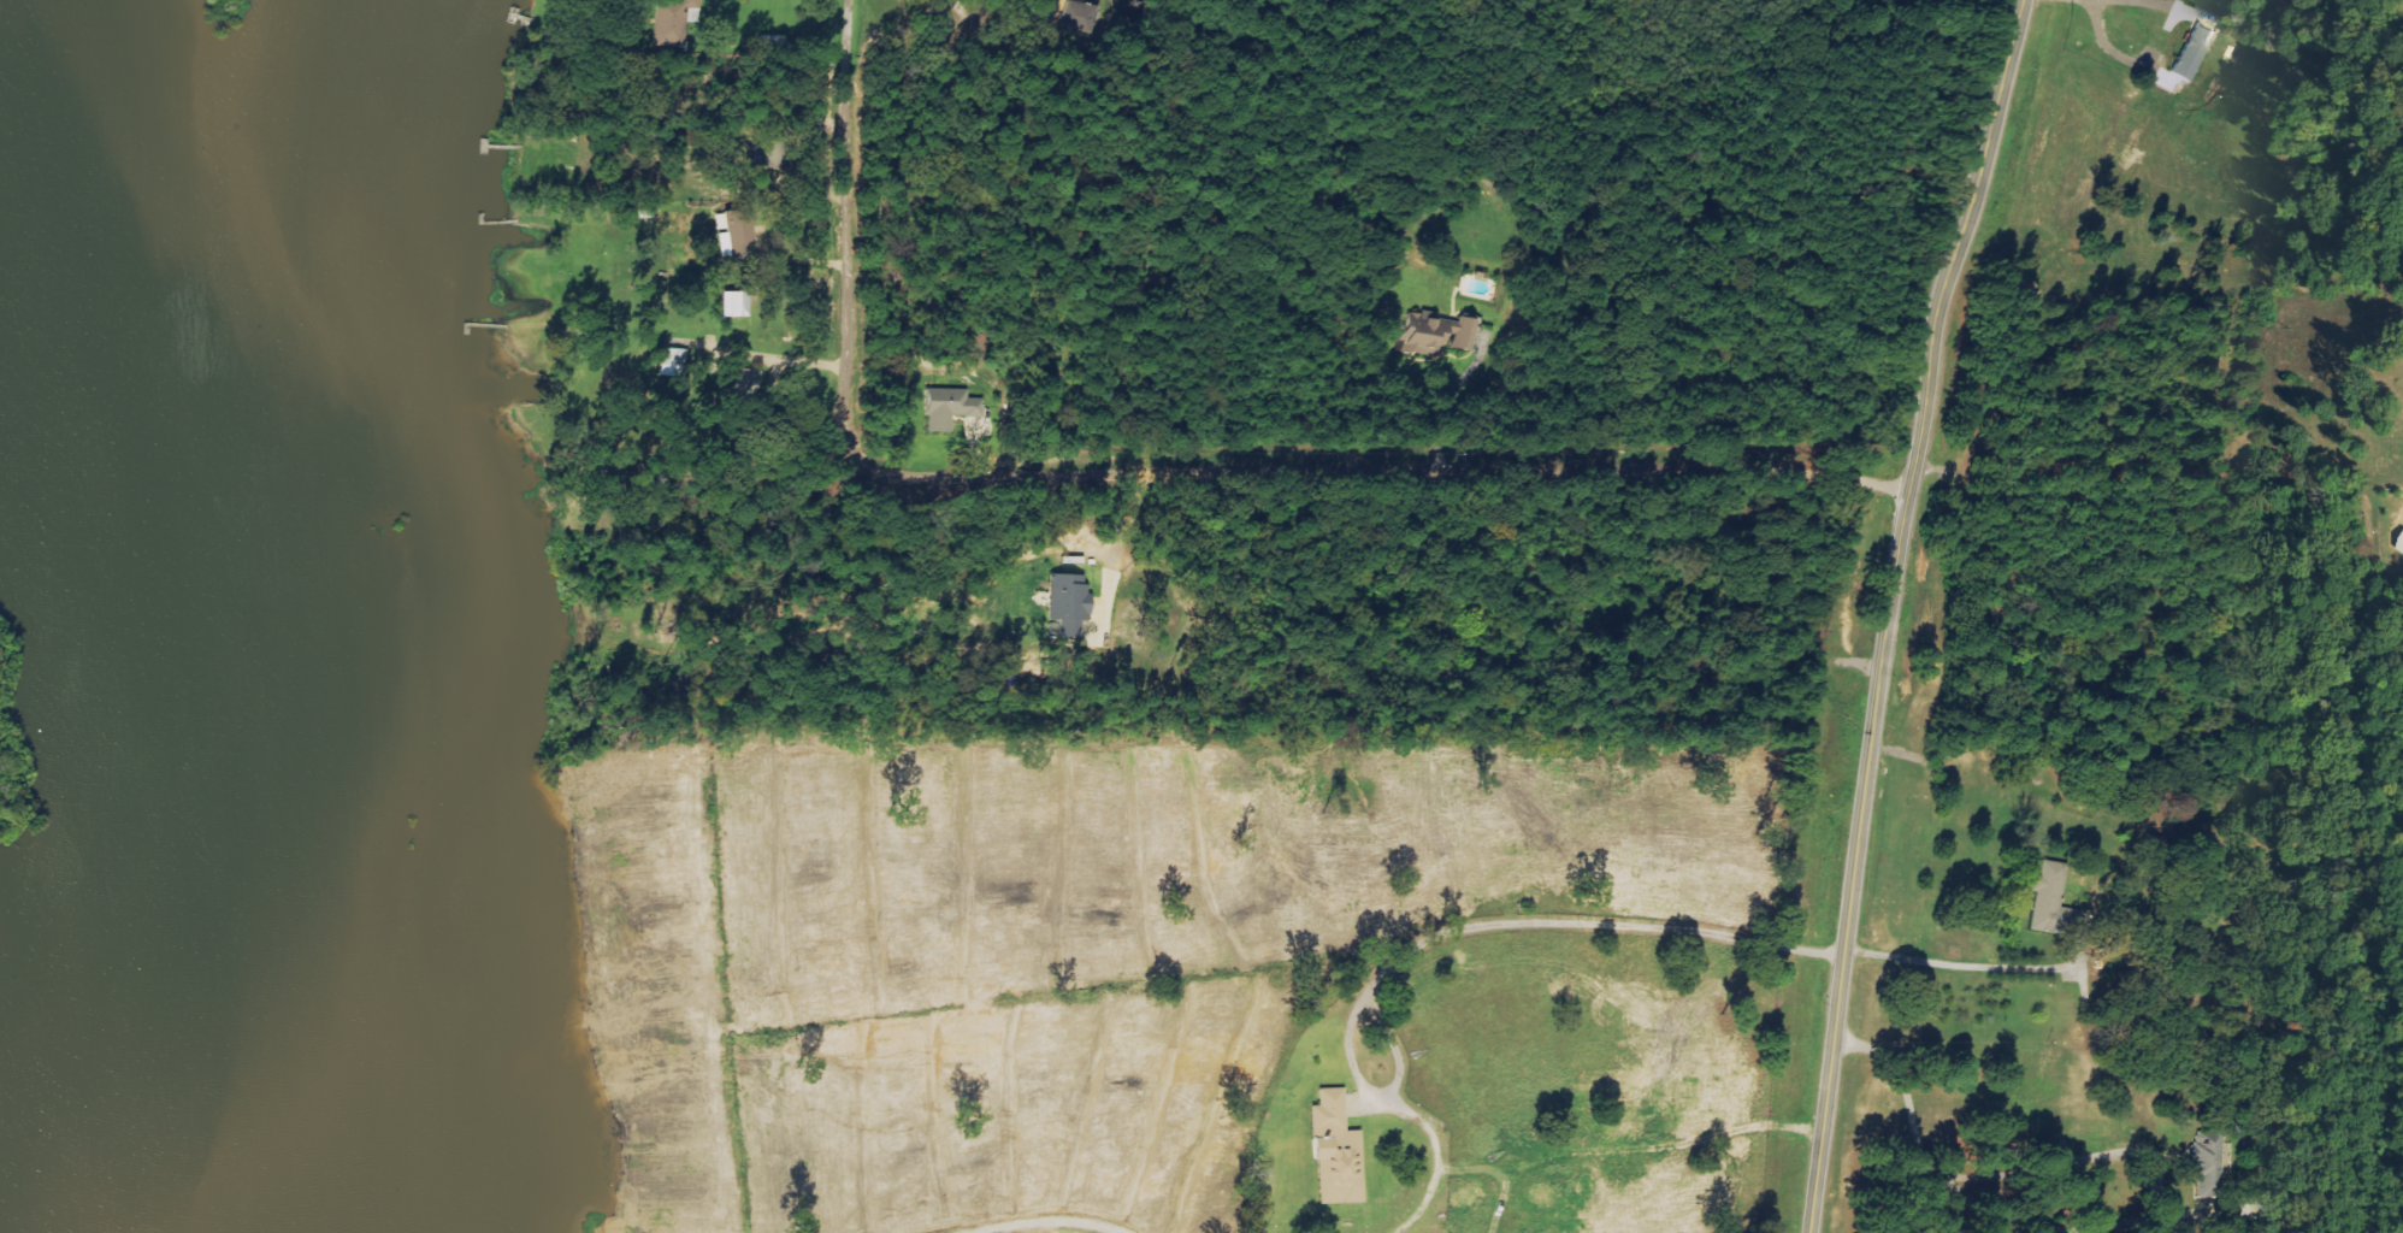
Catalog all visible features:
building: (1086, 13)
building: (671, 23)
building: (2194, 51)
river: (265, 223)
building: (740, 231)
building: (740, 302)
building: (1441, 331)
building: (679, 360)
building: (750, 380)
road: (1463, 402)
building: (950, 406)
road: (1165, 471)
building: (1068, 603)
road: (1900, 612)
building: (2050, 899)
road: (1979, 967)
building: (1336, 1150)
building: (2209, 1158)

